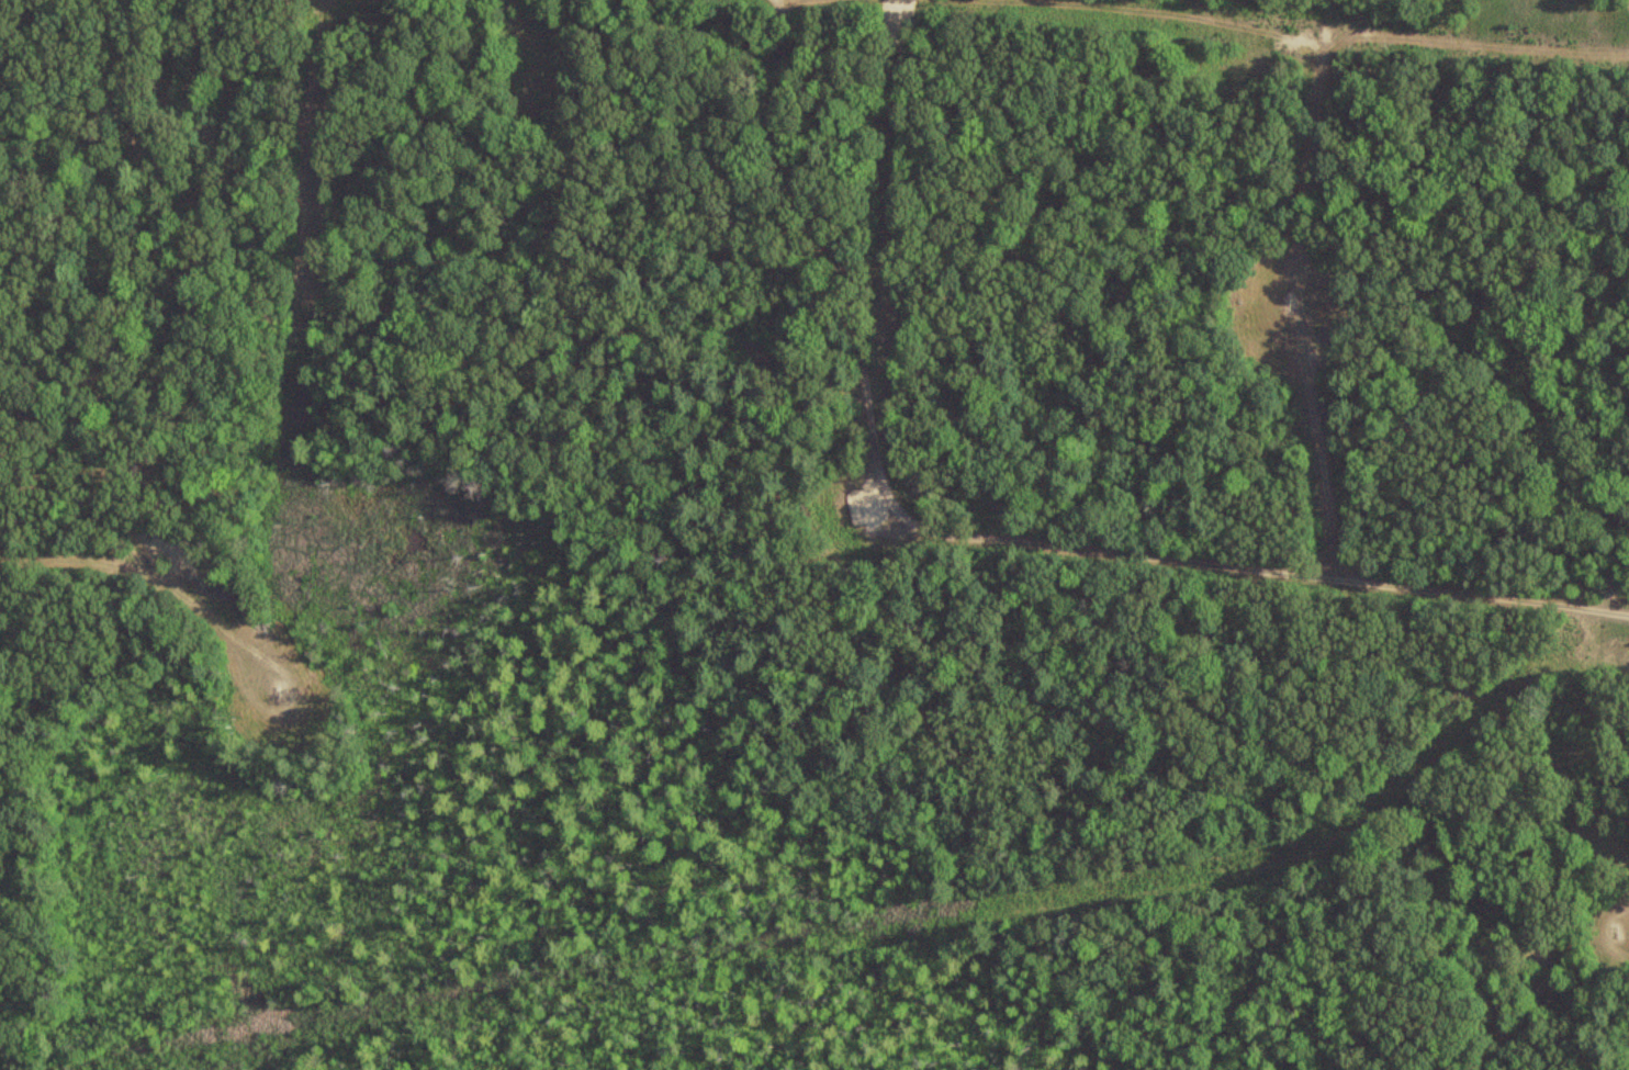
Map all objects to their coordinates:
road: (1349, 454)
road: (991, 561)
road: (131, 644)

